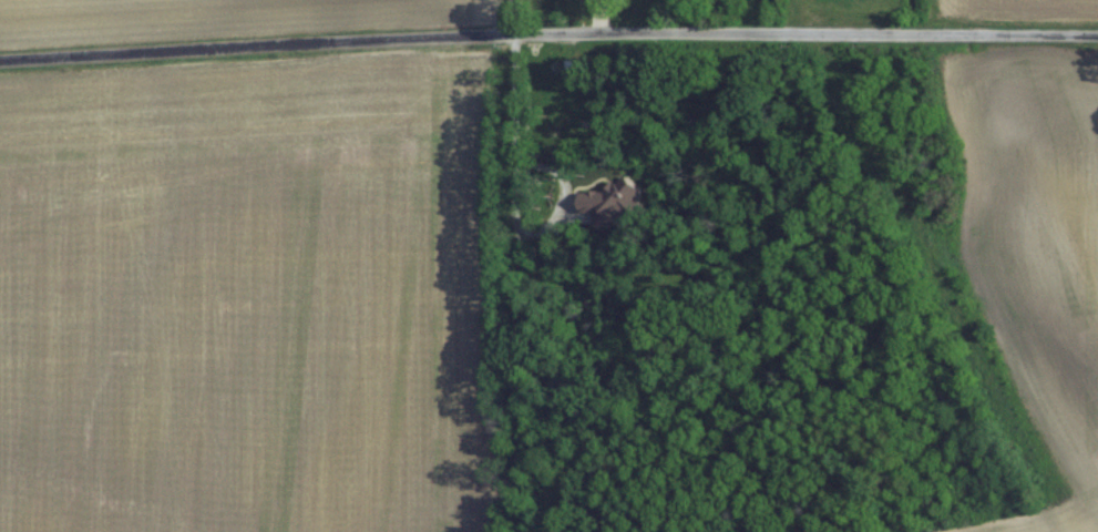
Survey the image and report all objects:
road: (548, 32)
road: (530, 266)

